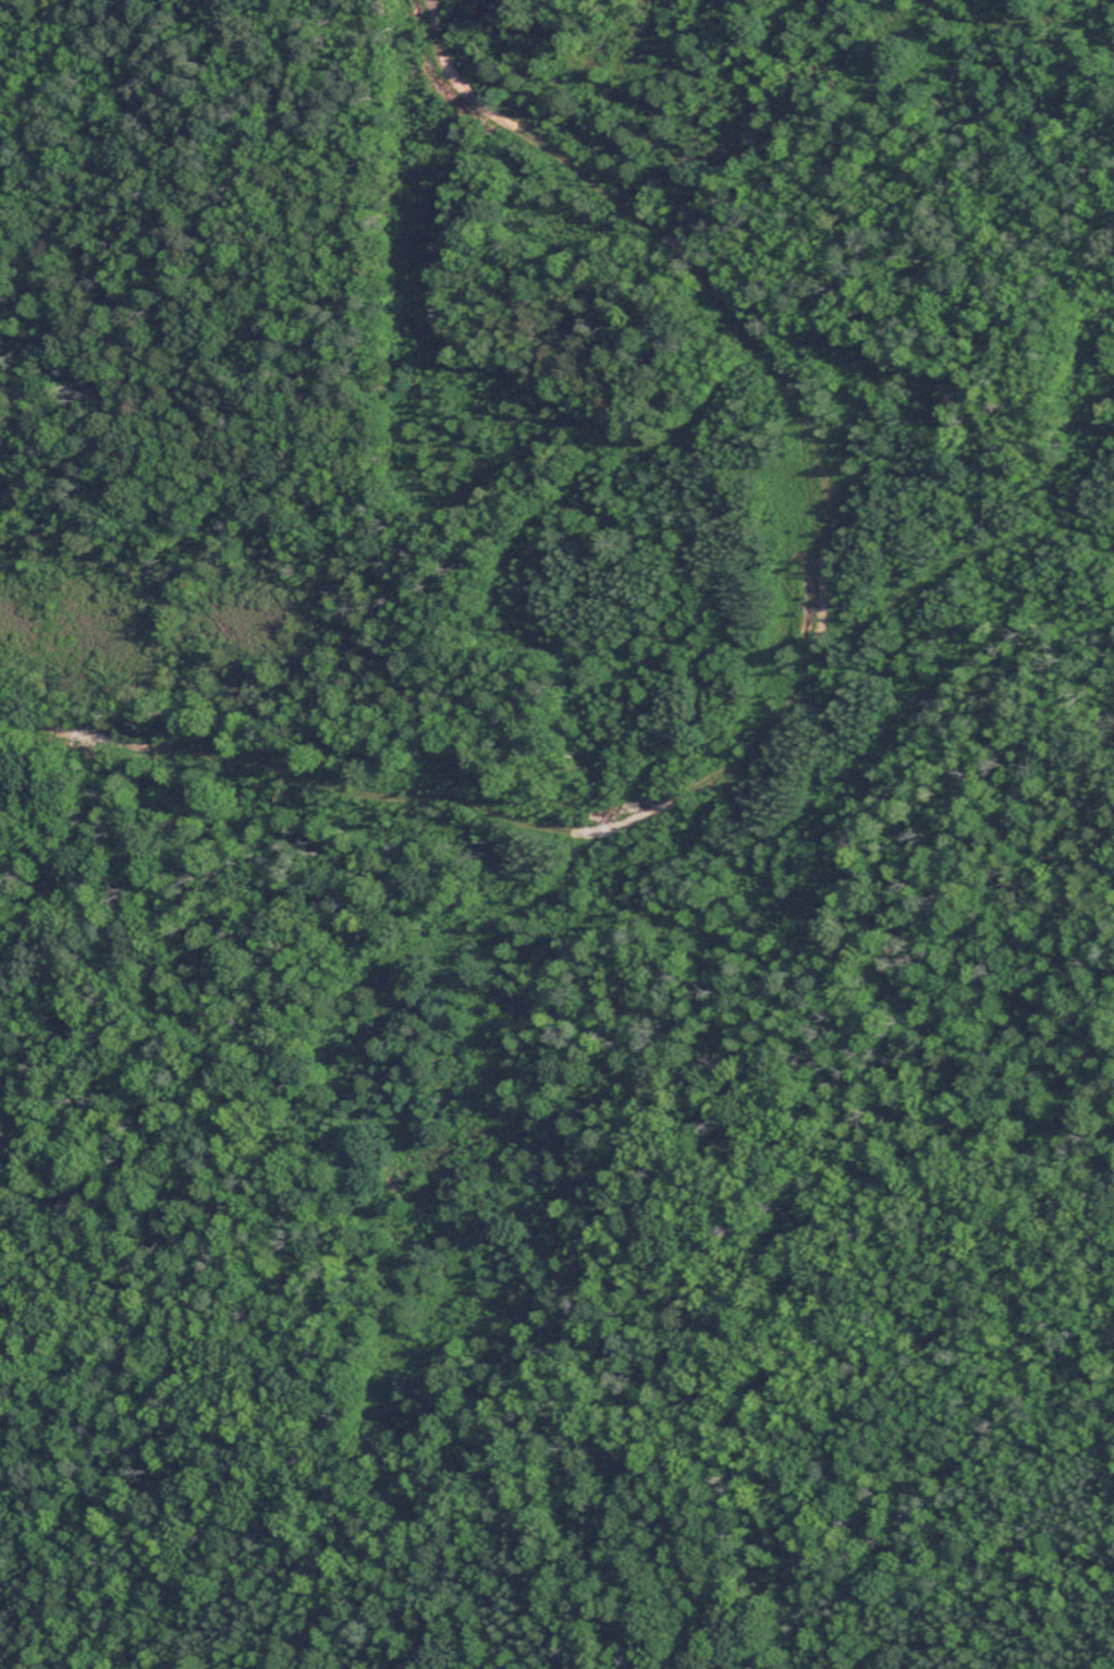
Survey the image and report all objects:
road: (801, 695)

